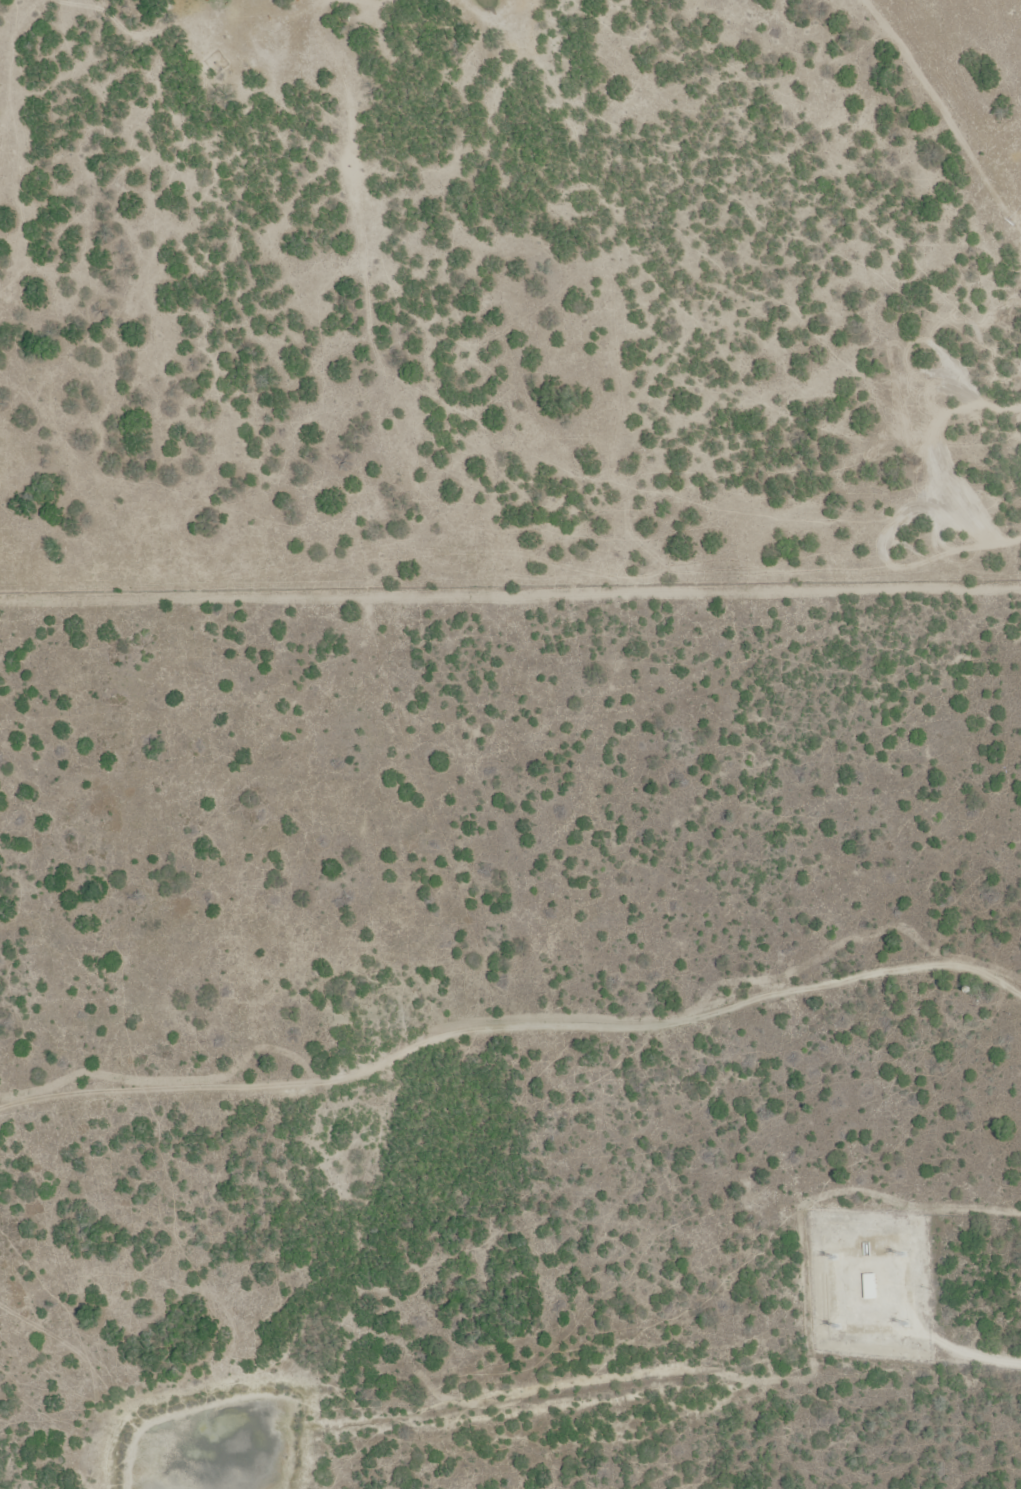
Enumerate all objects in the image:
building: (871, 1285)
road: (954, 1350)

